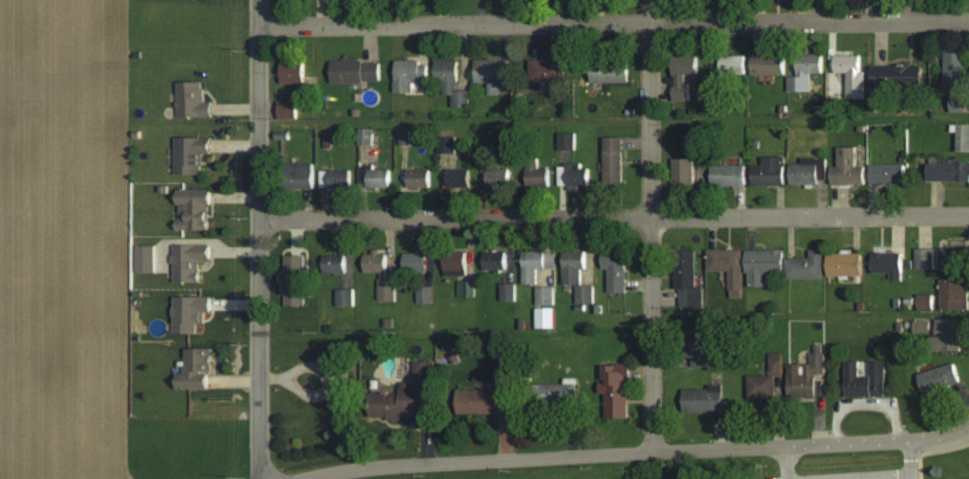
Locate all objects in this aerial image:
road: (614, 24)
building: (769, 63)
building: (732, 65)
building: (549, 69)
building: (356, 71)
building: (611, 71)
building: (805, 71)
building: (293, 72)
building: (492, 73)
building: (410, 75)
building: (851, 75)
building: (683, 76)
building: (957, 80)
building: (452, 81)
building: (192, 100)
building: (287, 110)
building: (365, 136)
building: (962, 136)
building: (404, 137)
building: (566, 141)
building: (447, 145)
building: (484, 152)
building: (192, 154)
building: (613, 161)
building: (848, 168)
building: (685, 171)
building: (809, 171)
building: (949, 171)
building: (769, 172)
building: (539, 173)
building: (888, 174)
building: (301, 175)
building: (573, 175)
building: (729, 175)
building: (375, 177)
building: (333, 178)
building: (418, 178)
building: (458, 178)
building: (497, 178)
building: (194, 210)
road: (614, 219)
road: (650, 225)
road: (259, 240)
building: (146, 258)
building: (952, 258)
building: (924, 259)
building: (190, 261)
building: (495, 261)
building: (376, 262)
building: (416, 263)
building: (846, 263)
building: (536, 264)
building: (888, 264)
building: (336, 265)
building: (455, 265)
building: (764, 265)
building: (807, 266)
building: (728, 268)
building: (616, 269)
building: (577, 276)
building: (688, 279)
building: (295, 281)
building: (466, 288)
building: (387, 290)
building: (508, 292)
building: (425, 294)
building: (953, 294)
building: (545, 295)
building: (344, 297)
building: (924, 302)
building: (190, 313)
building: (546, 318)
building: (923, 327)
building: (952, 333)
building: (699, 348)
building: (197, 370)
building: (806, 375)
building: (940, 379)
building: (866, 380)
building: (765, 381)
building: (617, 389)
building: (561, 393)
building: (409, 395)
building: (485, 399)
building: (705, 399)
road: (637, 452)
road: (909, 459)
road: (782, 462)
road: (846, 474)

